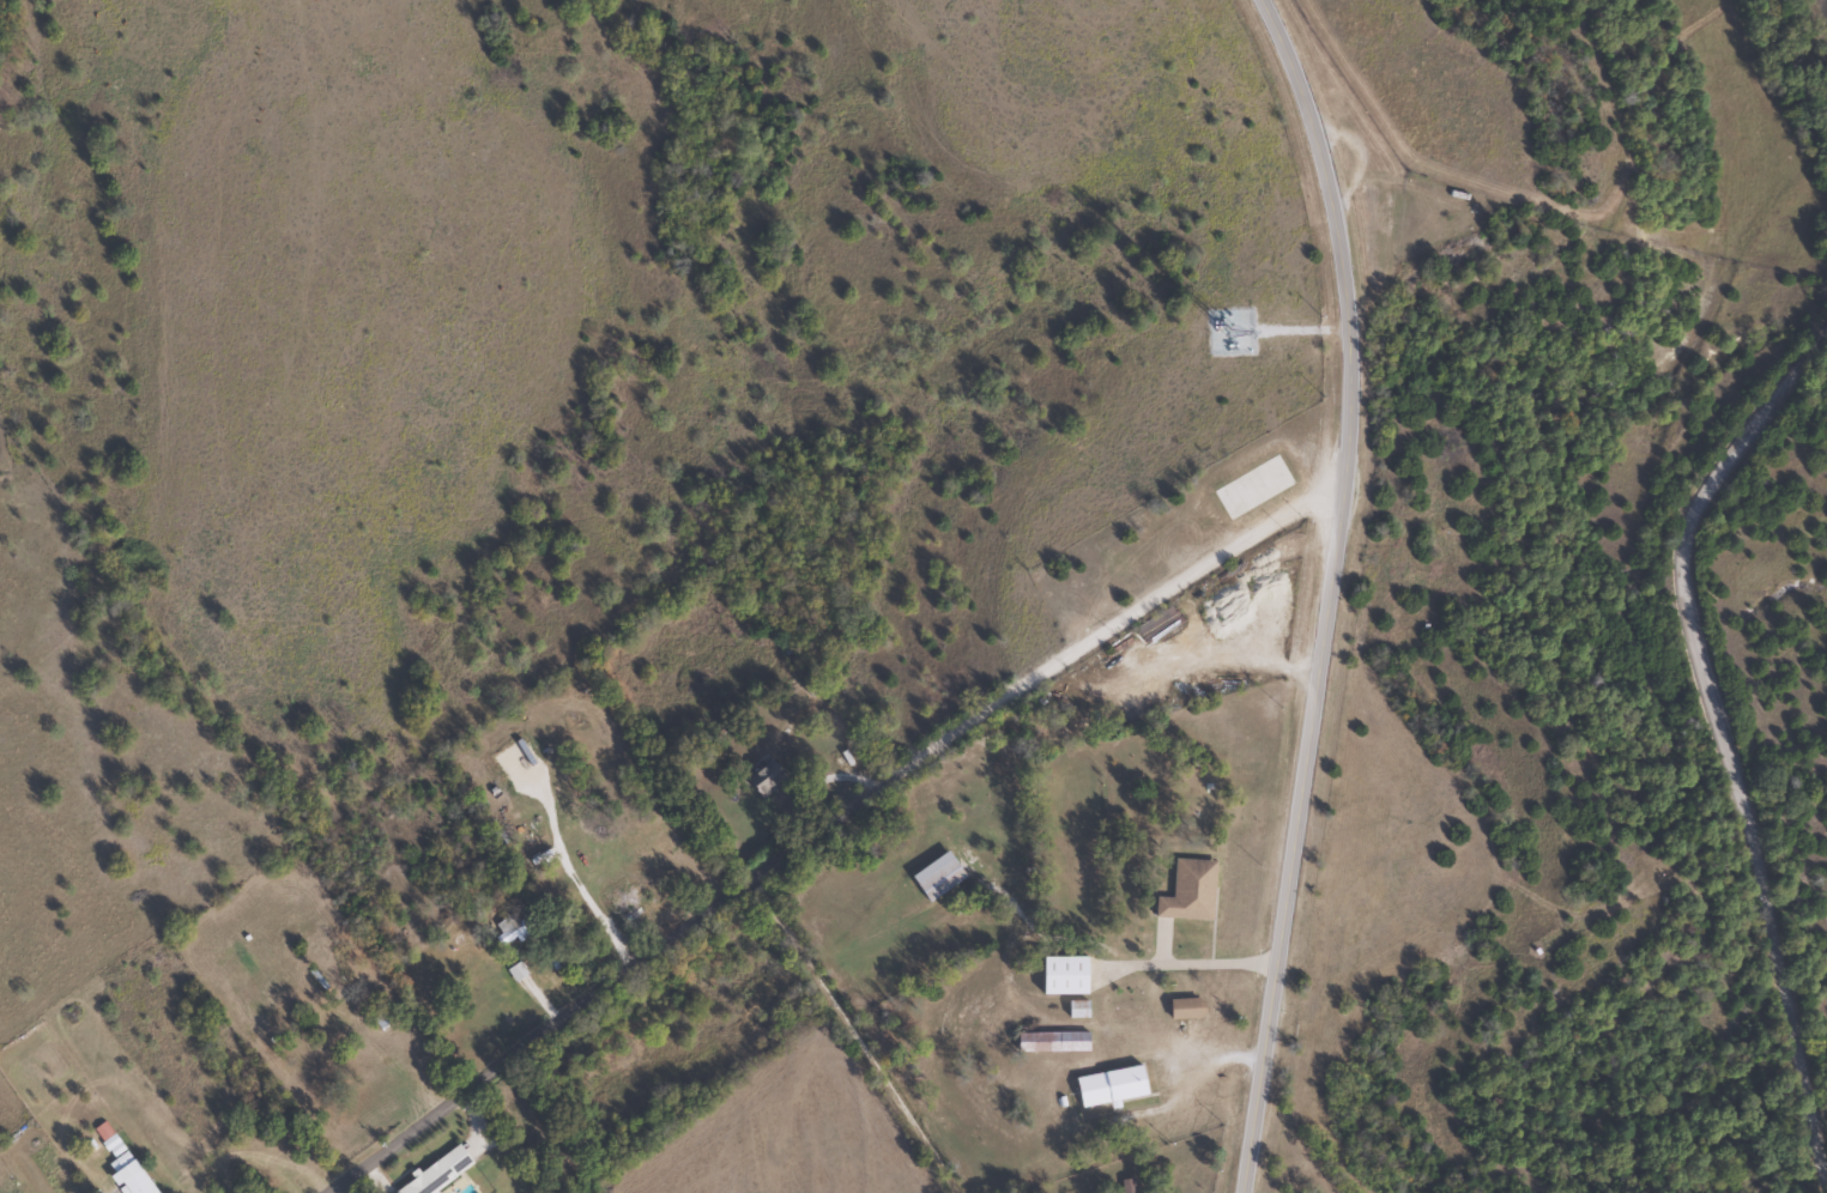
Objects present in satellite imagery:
building: (1242, 497)
road: (1331, 592)
building: (1158, 626)
road: (1672, 713)
road: (887, 746)
building: (763, 779)
building: (936, 877)
building: (1187, 892)
building: (507, 928)
building: (1059, 976)
building: (1184, 1009)
road: (824, 1032)
building: (1049, 1042)
building: (1107, 1086)
road: (385, 1131)
building: (125, 1173)
building: (435, 1173)

